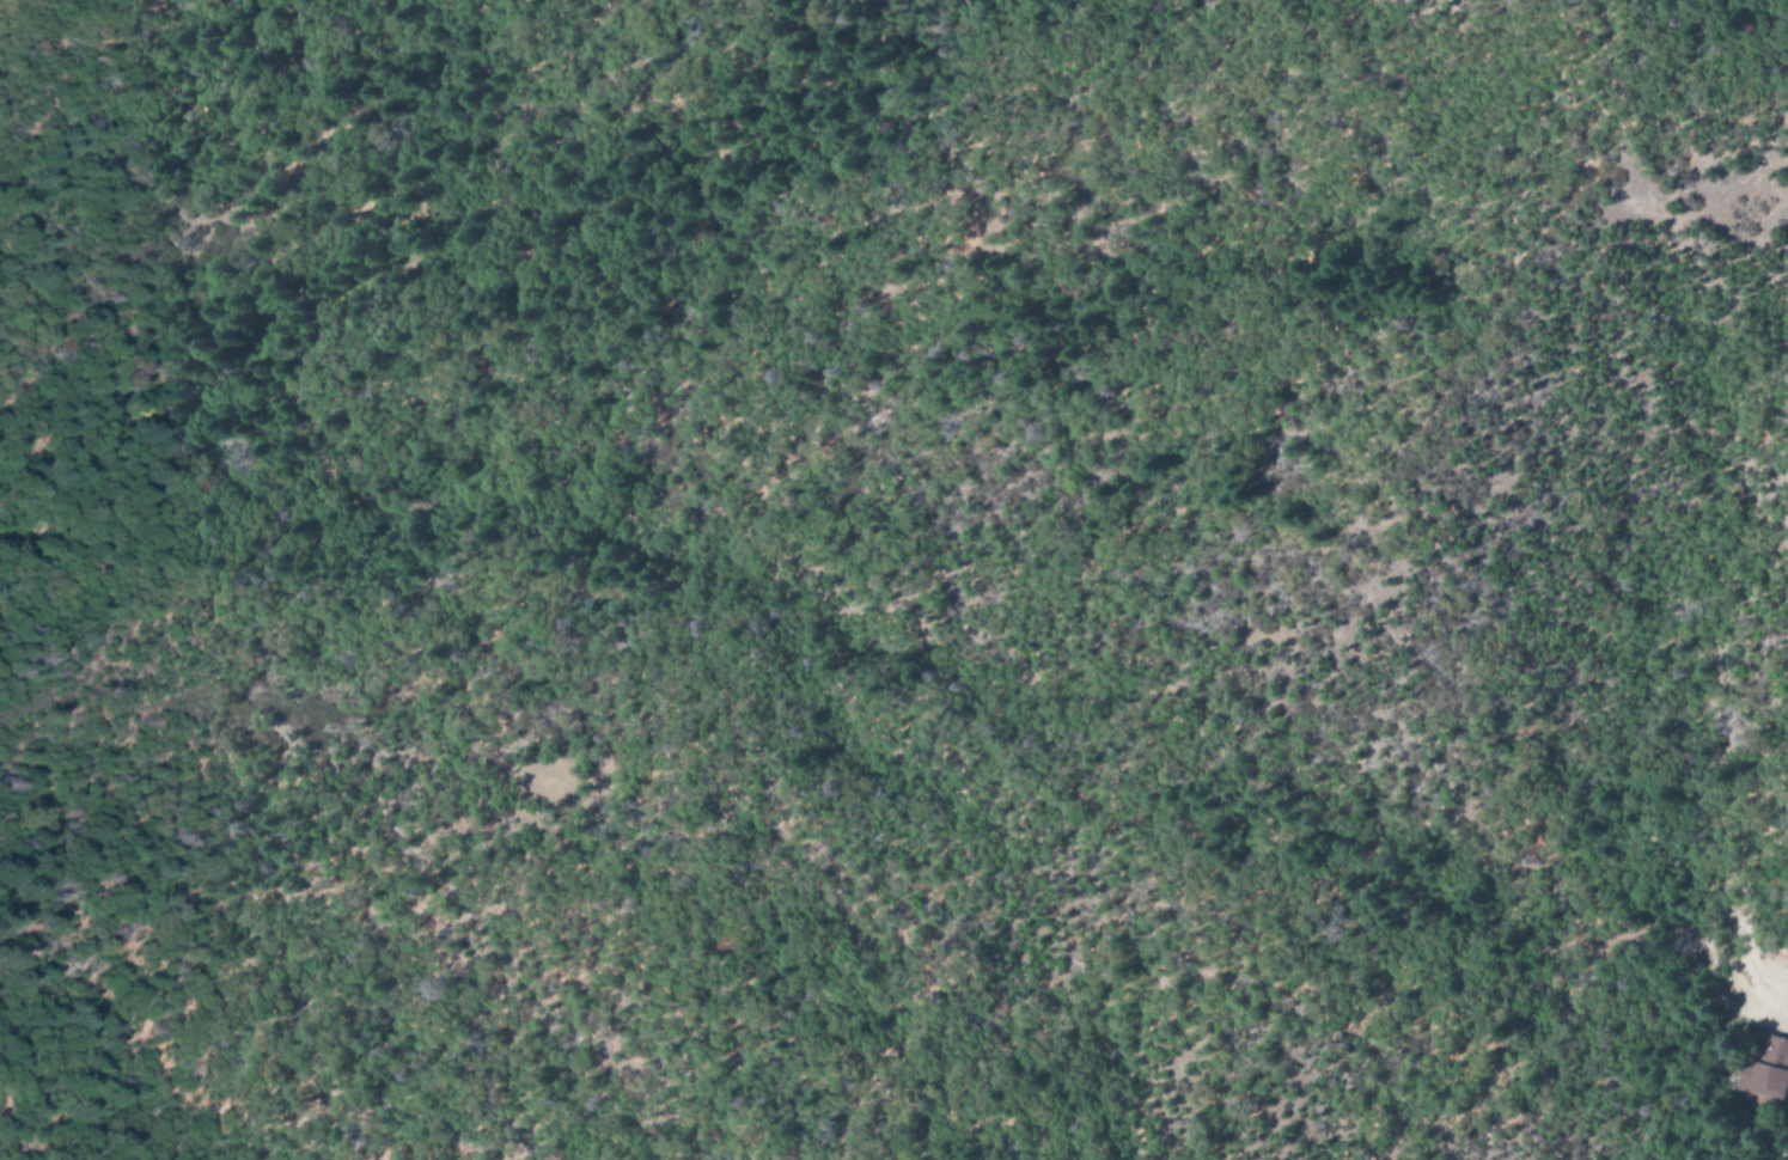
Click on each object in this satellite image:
building: (1768, 1072)
road: (1776, 1137)

